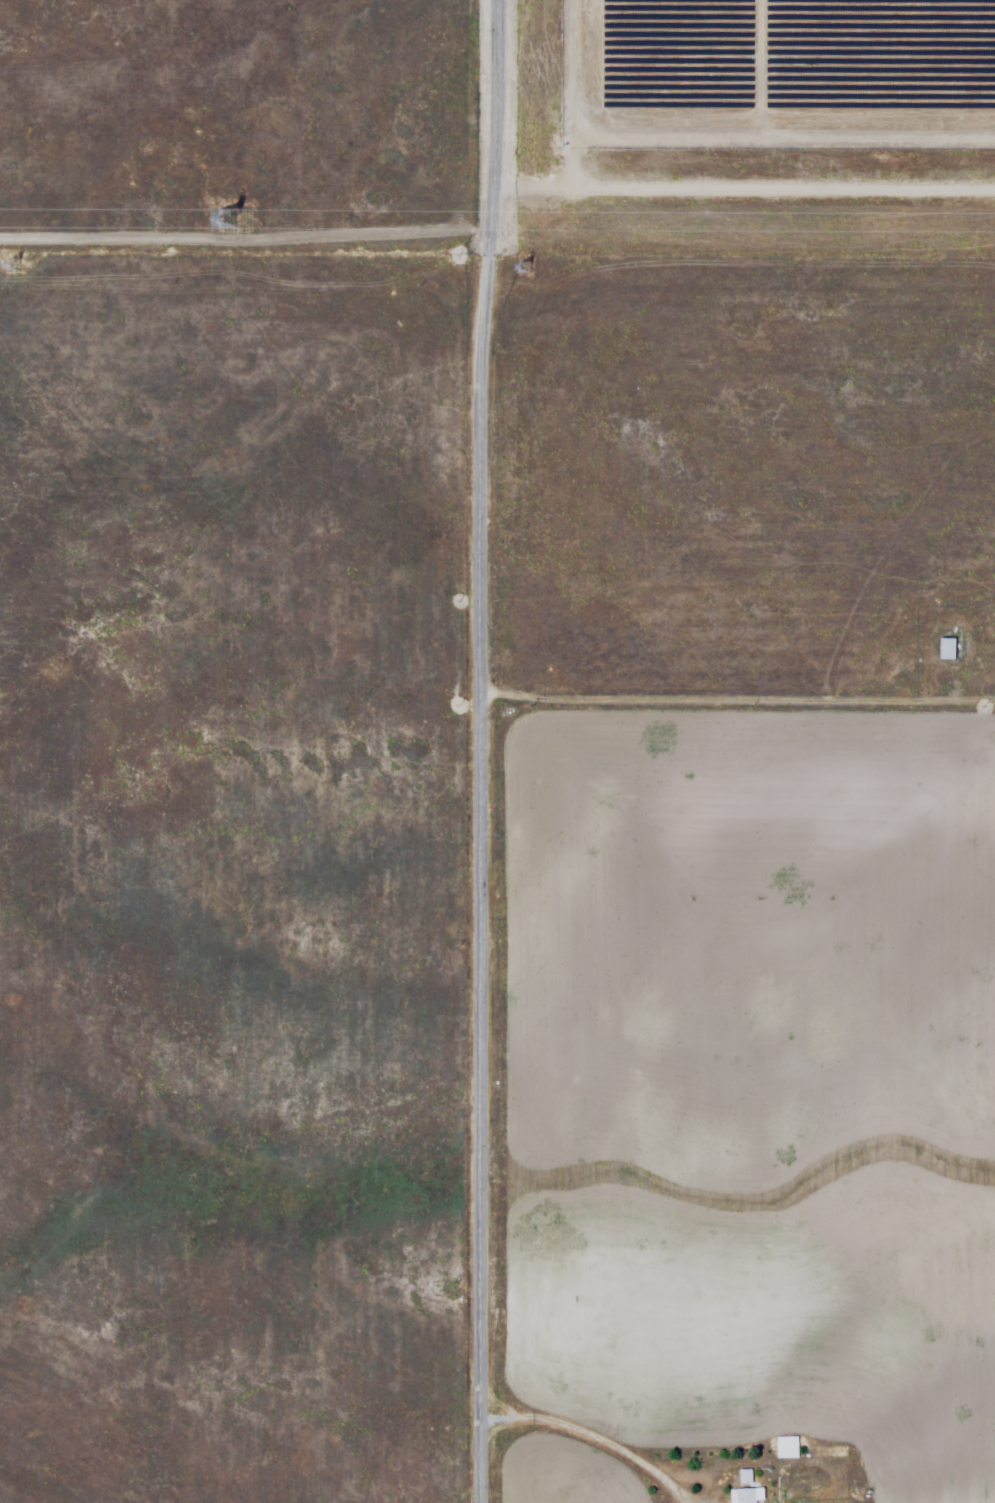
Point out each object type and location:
solar farm: (762, 124)
power tower: (226, 218)
power tower: (19, 267)
power tower: (527, 268)
building: (948, 650)
road: (711, 703)
road: (484, 751)
road: (593, 1439)
building: (790, 1449)
building: (748, 1496)

